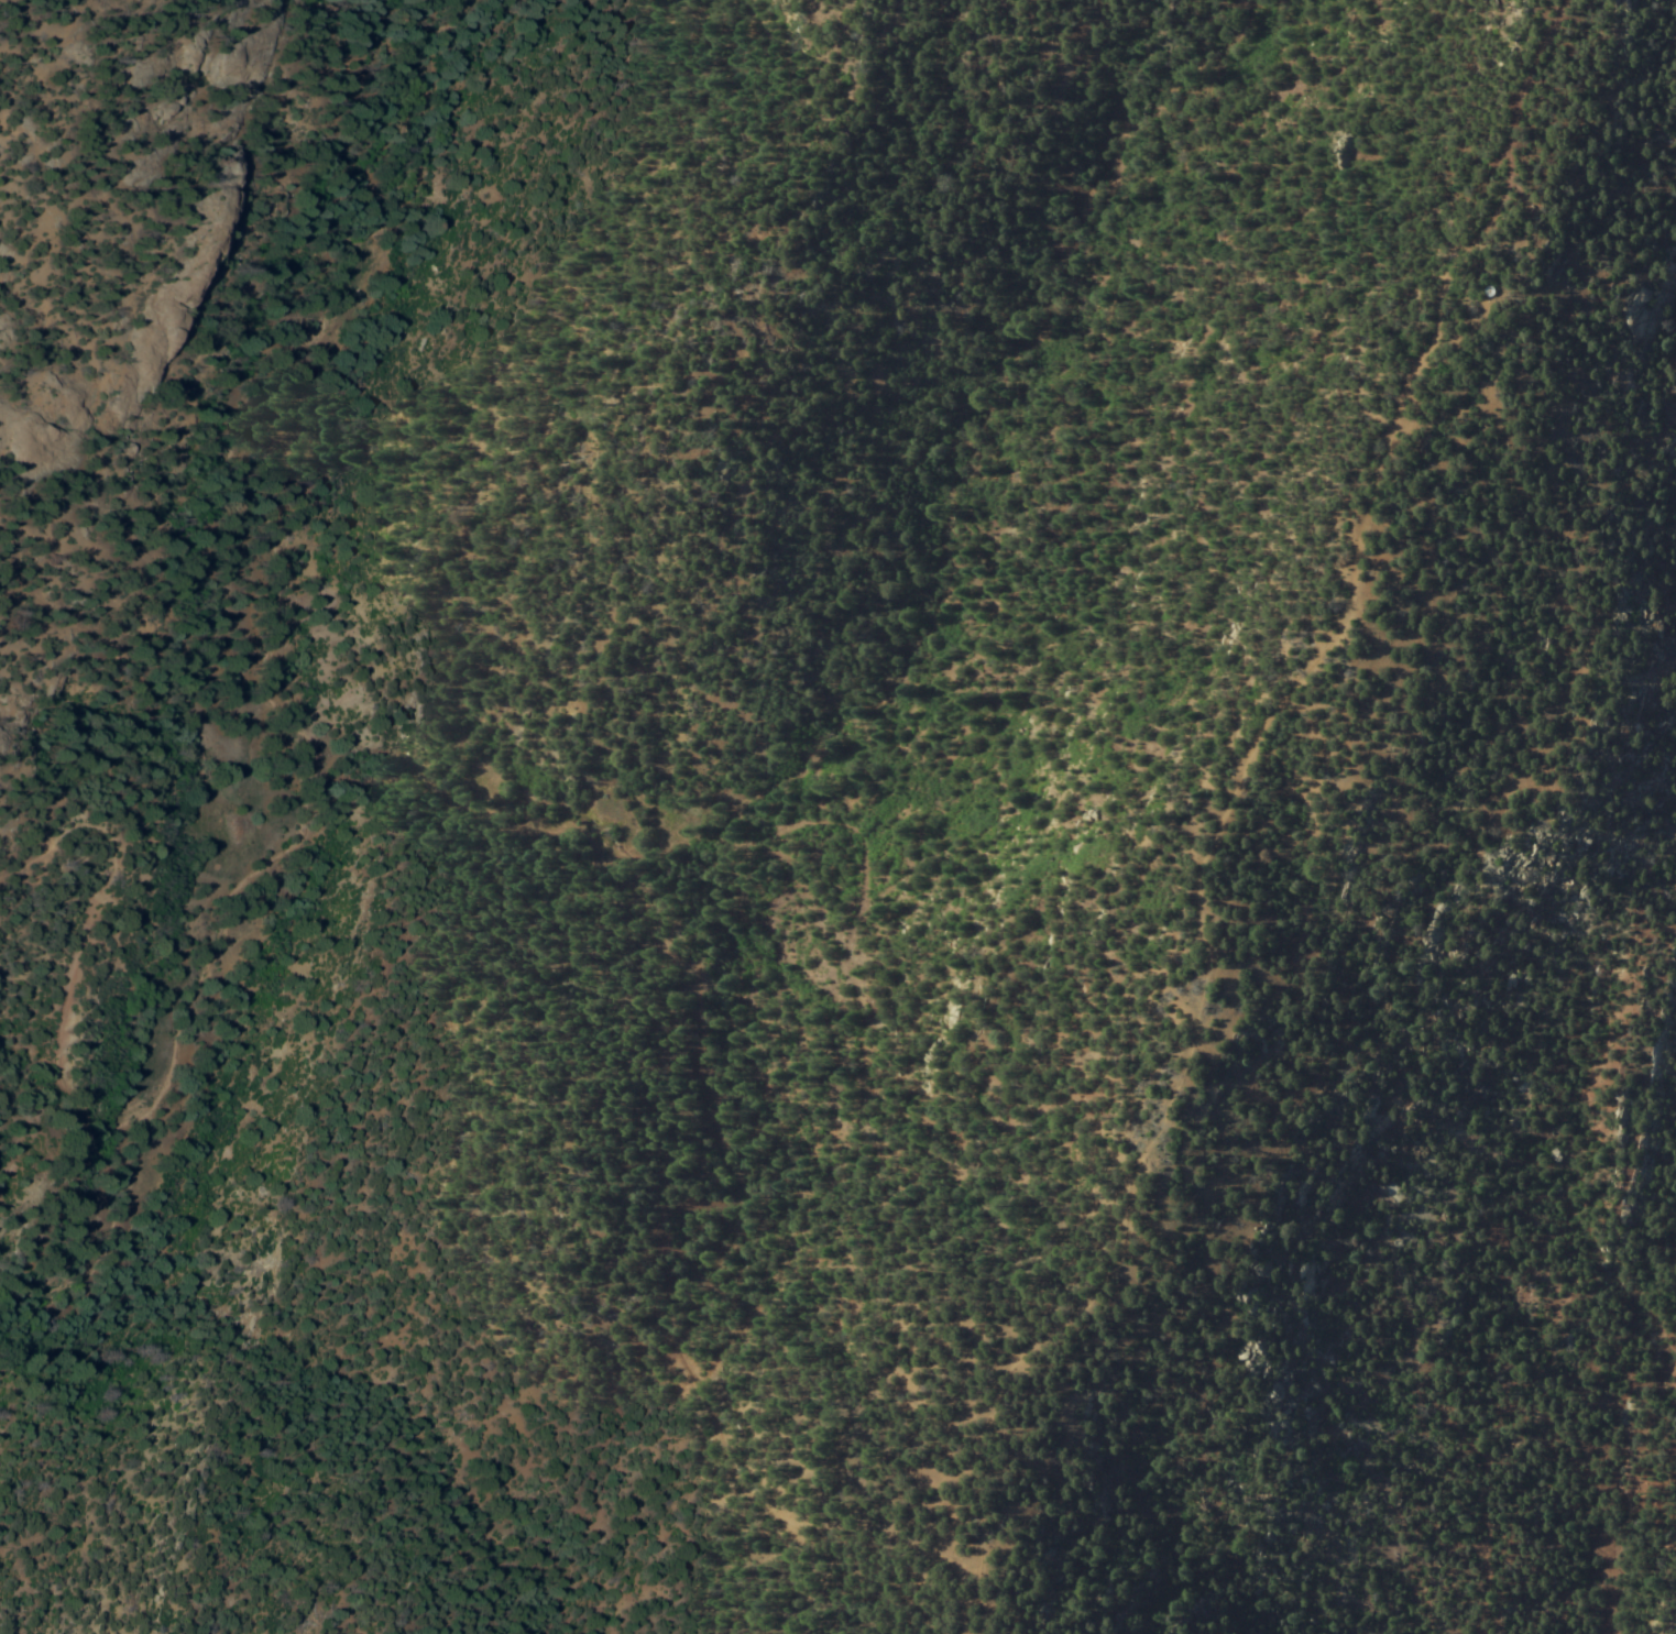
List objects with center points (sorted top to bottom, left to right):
road: (1225, 819)

